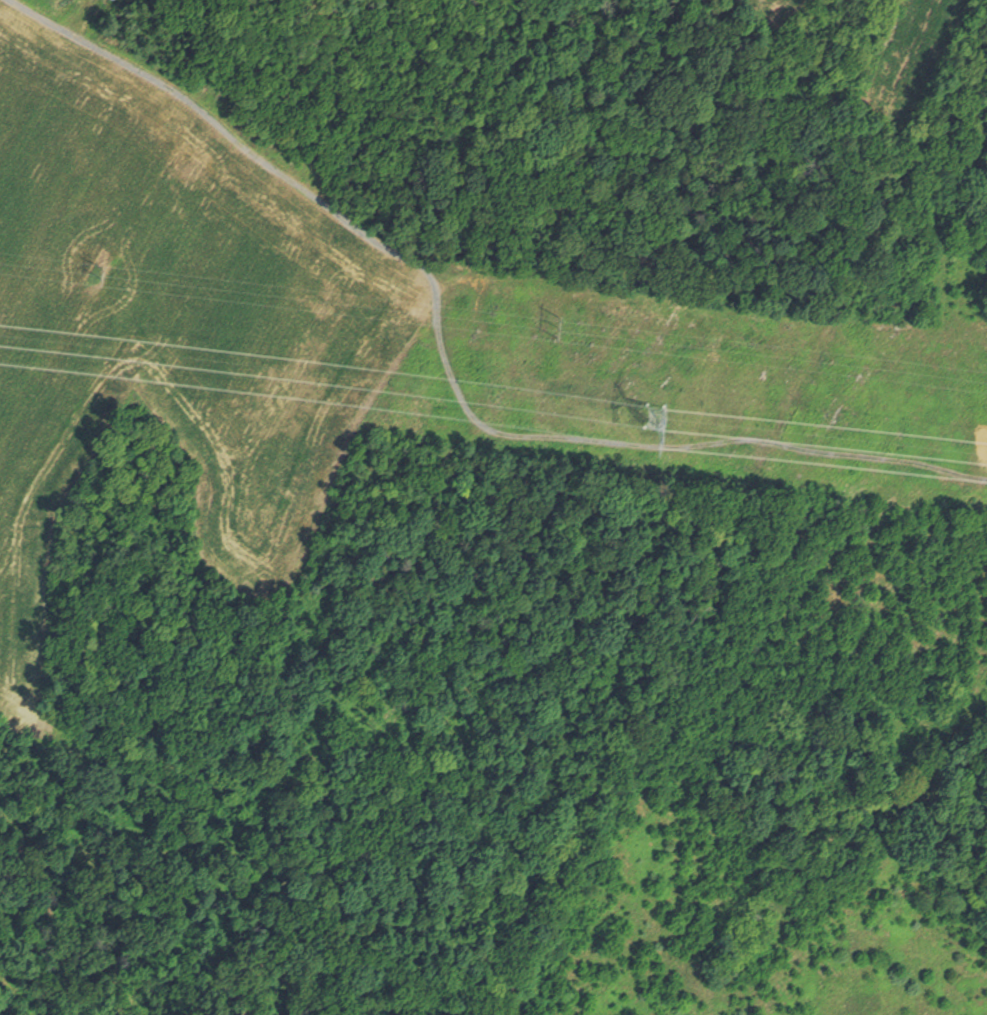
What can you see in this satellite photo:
road: (971, 78)
power tower: (90, 272)
power tower: (563, 324)
power tower: (629, 396)

